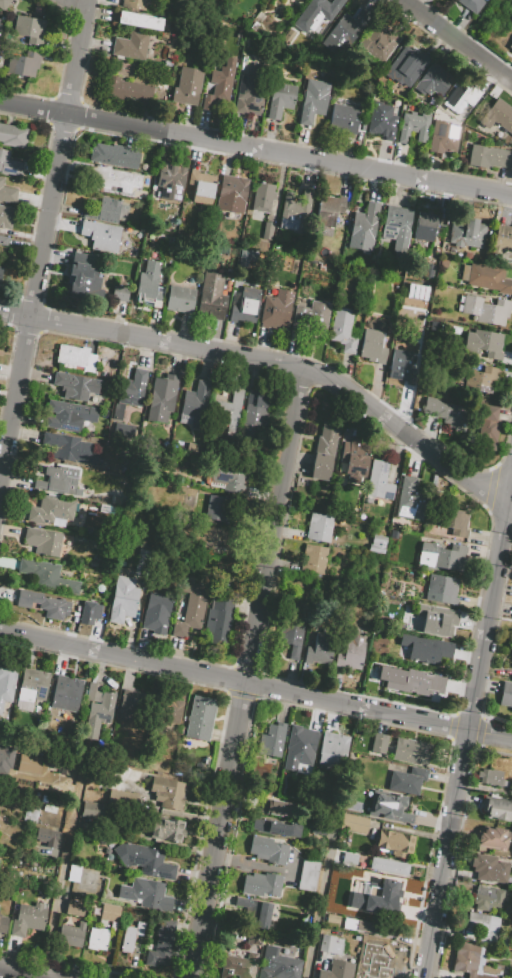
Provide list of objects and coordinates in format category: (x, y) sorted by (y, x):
building: (4, 4)
building: (135, 4)
building: (472, 5)
road: (72, 8)
building: (317, 13)
building: (140, 20)
building: (0, 28)
building: (28, 31)
building: (346, 33)
road: (457, 39)
building: (381, 42)
building: (130, 46)
building: (510, 47)
building: (23, 64)
building: (407, 64)
building: (433, 81)
building: (187, 86)
building: (219, 87)
building: (479, 89)
building: (129, 92)
building: (250, 92)
building: (455, 95)
building: (280, 99)
building: (312, 105)
building: (500, 115)
building: (345, 117)
building: (381, 123)
building: (413, 127)
building: (13, 135)
building: (443, 137)
road: (255, 150)
building: (115, 156)
building: (489, 157)
building: (9, 164)
building: (113, 179)
building: (170, 180)
building: (201, 186)
building: (7, 193)
building: (232, 194)
building: (263, 197)
building: (103, 210)
building: (330, 211)
building: (294, 212)
building: (6, 216)
building: (425, 226)
building: (364, 227)
building: (396, 227)
building: (267, 231)
building: (467, 232)
building: (101, 235)
building: (3, 239)
building: (503, 240)
road: (43, 245)
building: (467, 255)
building: (300, 258)
building: (443, 264)
building: (0, 269)
building: (429, 269)
building: (486, 277)
building: (89, 283)
building: (149, 283)
building: (228, 284)
building: (120, 293)
building: (415, 295)
building: (211, 296)
building: (180, 299)
building: (245, 305)
building: (425, 307)
building: (486, 309)
building: (276, 310)
building: (311, 318)
building: (343, 329)
building: (484, 343)
building: (372, 345)
building: (76, 357)
road: (271, 362)
building: (401, 368)
building: (482, 379)
building: (75, 386)
building: (132, 388)
building: (162, 399)
building: (197, 404)
building: (230, 411)
building: (451, 413)
building: (68, 415)
building: (255, 417)
building: (487, 428)
building: (166, 447)
building: (69, 448)
building: (324, 451)
building: (353, 462)
building: (230, 478)
building: (379, 481)
building: (59, 482)
road: (508, 485)
building: (410, 501)
road: (508, 506)
building: (216, 508)
building: (50, 511)
building: (454, 521)
building: (319, 527)
building: (212, 540)
building: (43, 541)
building: (376, 546)
building: (442, 556)
building: (313, 558)
building: (143, 561)
building: (93, 563)
building: (49, 576)
building: (442, 589)
building: (123, 599)
building: (50, 605)
building: (155, 609)
building: (190, 609)
building: (218, 618)
building: (433, 620)
building: (291, 639)
building: (321, 648)
building: (427, 651)
building: (350, 655)
building: (511, 656)
road: (244, 672)
road: (232, 681)
building: (6, 682)
building: (32, 683)
building: (413, 684)
building: (66, 693)
building: (506, 695)
building: (133, 703)
building: (169, 712)
building: (98, 714)
building: (201, 719)
road: (489, 733)
building: (271, 740)
building: (301, 740)
road: (464, 740)
building: (379, 743)
building: (87, 749)
building: (332, 750)
building: (411, 751)
building: (6, 758)
building: (61, 762)
building: (29, 764)
building: (130, 773)
building: (491, 777)
building: (407, 780)
building: (117, 783)
building: (168, 792)
building: (123, 797)
building: (44, 799)
building: (388, 807)
building: (277, 808)
building: (50, 809)
building: (497, 809)
building: (92, 810)
building: (30, 815)
building: (353, 824)
building: (167, 828)
building: (278, 829)
building: (45, 836)
building: (493, 837)
building: (395, 842)
building: (48, 849)
building: (269, 849)
building: (144, 860)
building: (349, 860)
building: (389, 866)
building: (489, 869)
road: (64, 870)
building: (74, 873)
building: (308, 875)
building: (263, 883)
building: (383, 886)
road: (324, 887)
building: (146, 894)
building: (377, 898)
building: (487, 899)
building: (75, 908)
building: (255, 911)
building: (110, 913)
building: (28, 919)
building: (333, 919)
building: (477, 923)
building: (3, 924)
building: (371, 927)
building: (71, 935)
building: (131, 936)
building: (97, 938)
building: (255, 938)
building: (161, 944)
building: (331, 944)
building: (469, 960)
building: (278, 964)
building: (375, 964)
building: (238, 965)
building: (337, 969)
road: (25, 973)

